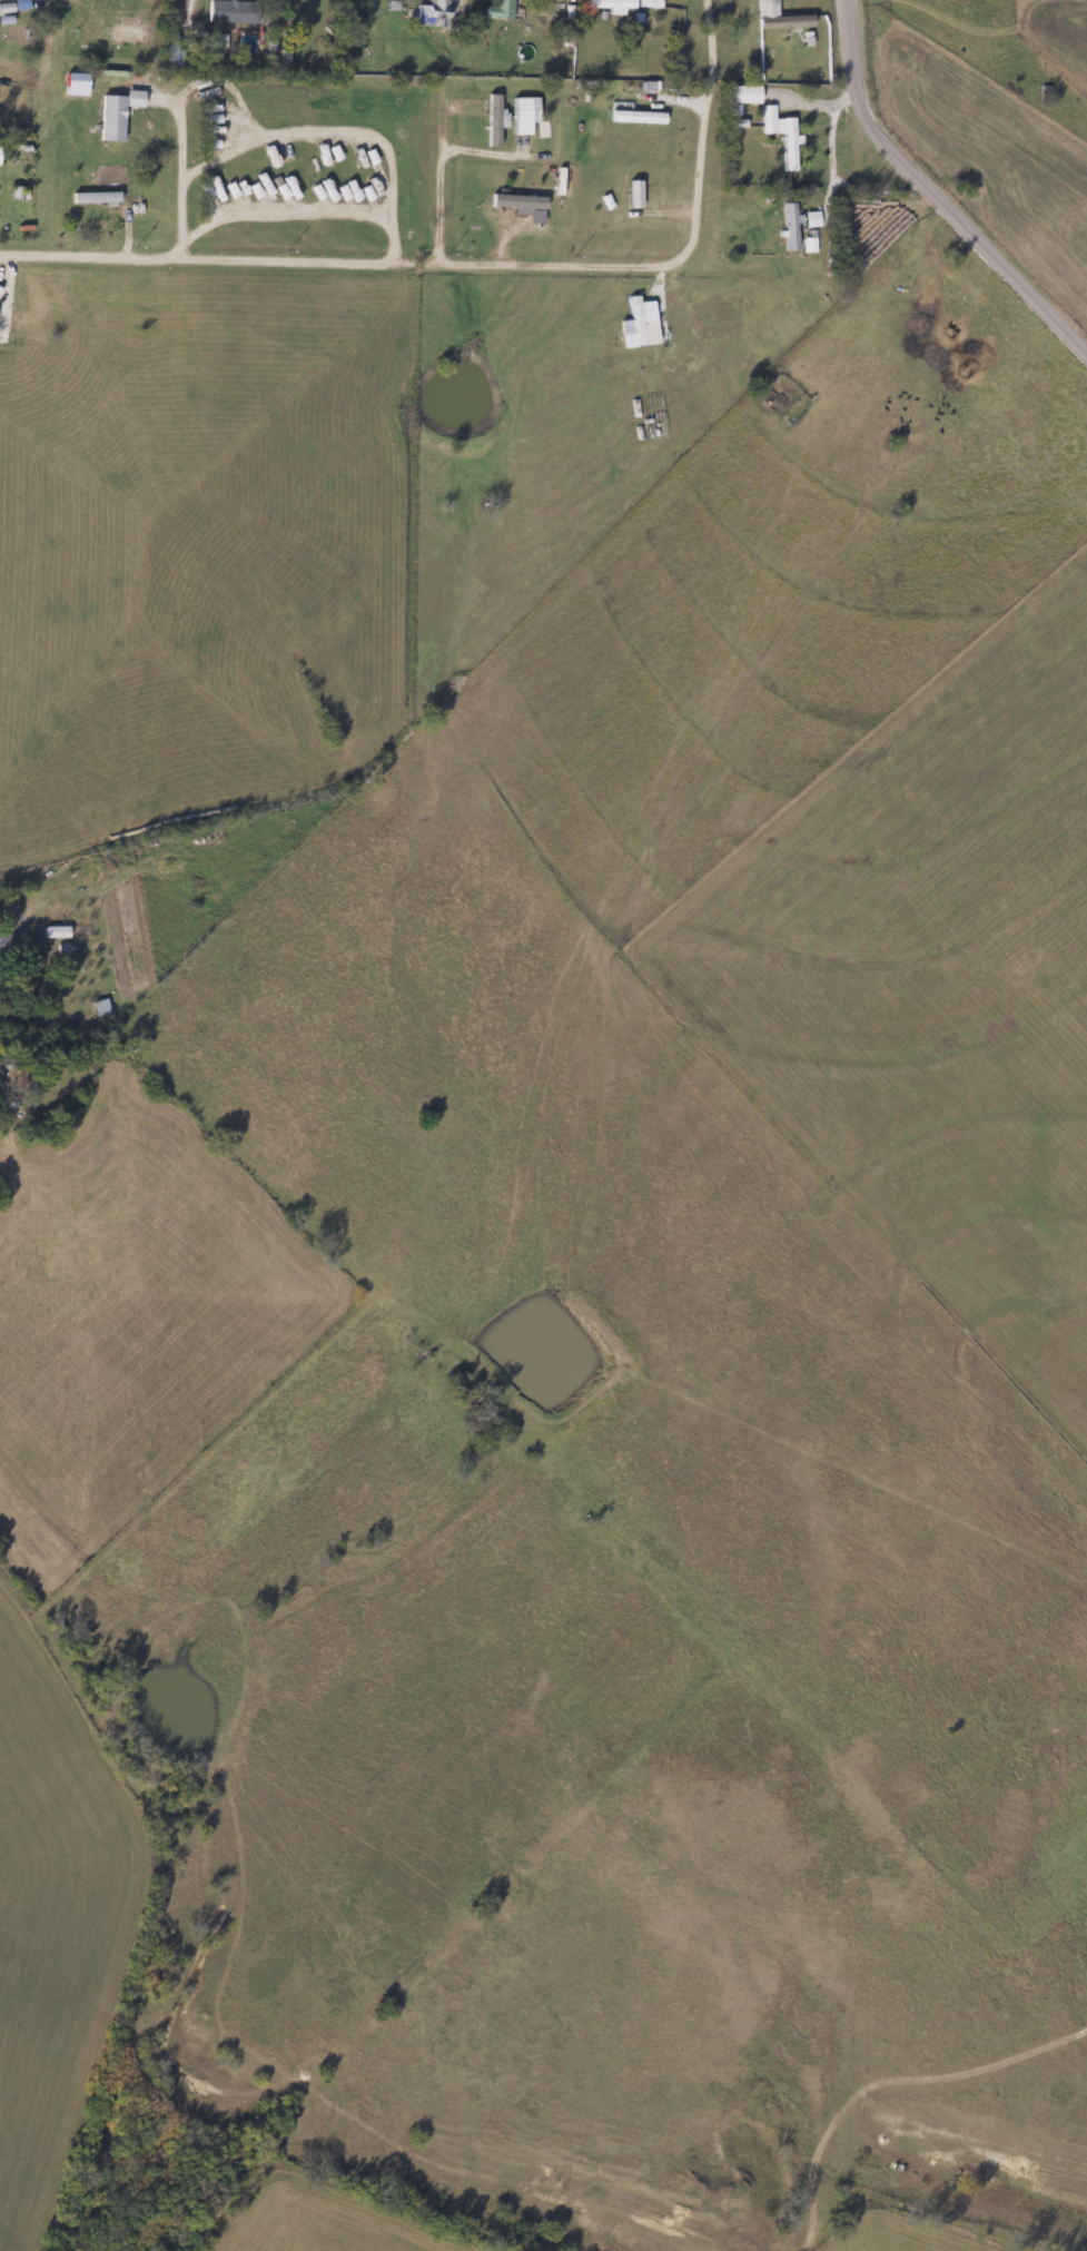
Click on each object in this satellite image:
building: (646, 3)
building: (607, 4)
building: (498, 11)
building: (228, 12)
building: (432, 14)
building: (780, 22)
building: (171, 52)
building: (739, 98)
building: (634, 118)
building: (108, 119)
road: (316, 136)
building: (778, 136)
road: (178, 184)
road: (931, 194)
building: (92, 199)
road: (297, 215)
building: (809, 220)
building: (787, 228)
building: (809, 246)
road: (217, 264)
road: (632, 271)
building: (42, 916)
building: (3, 946)
building: (98, 1008)

